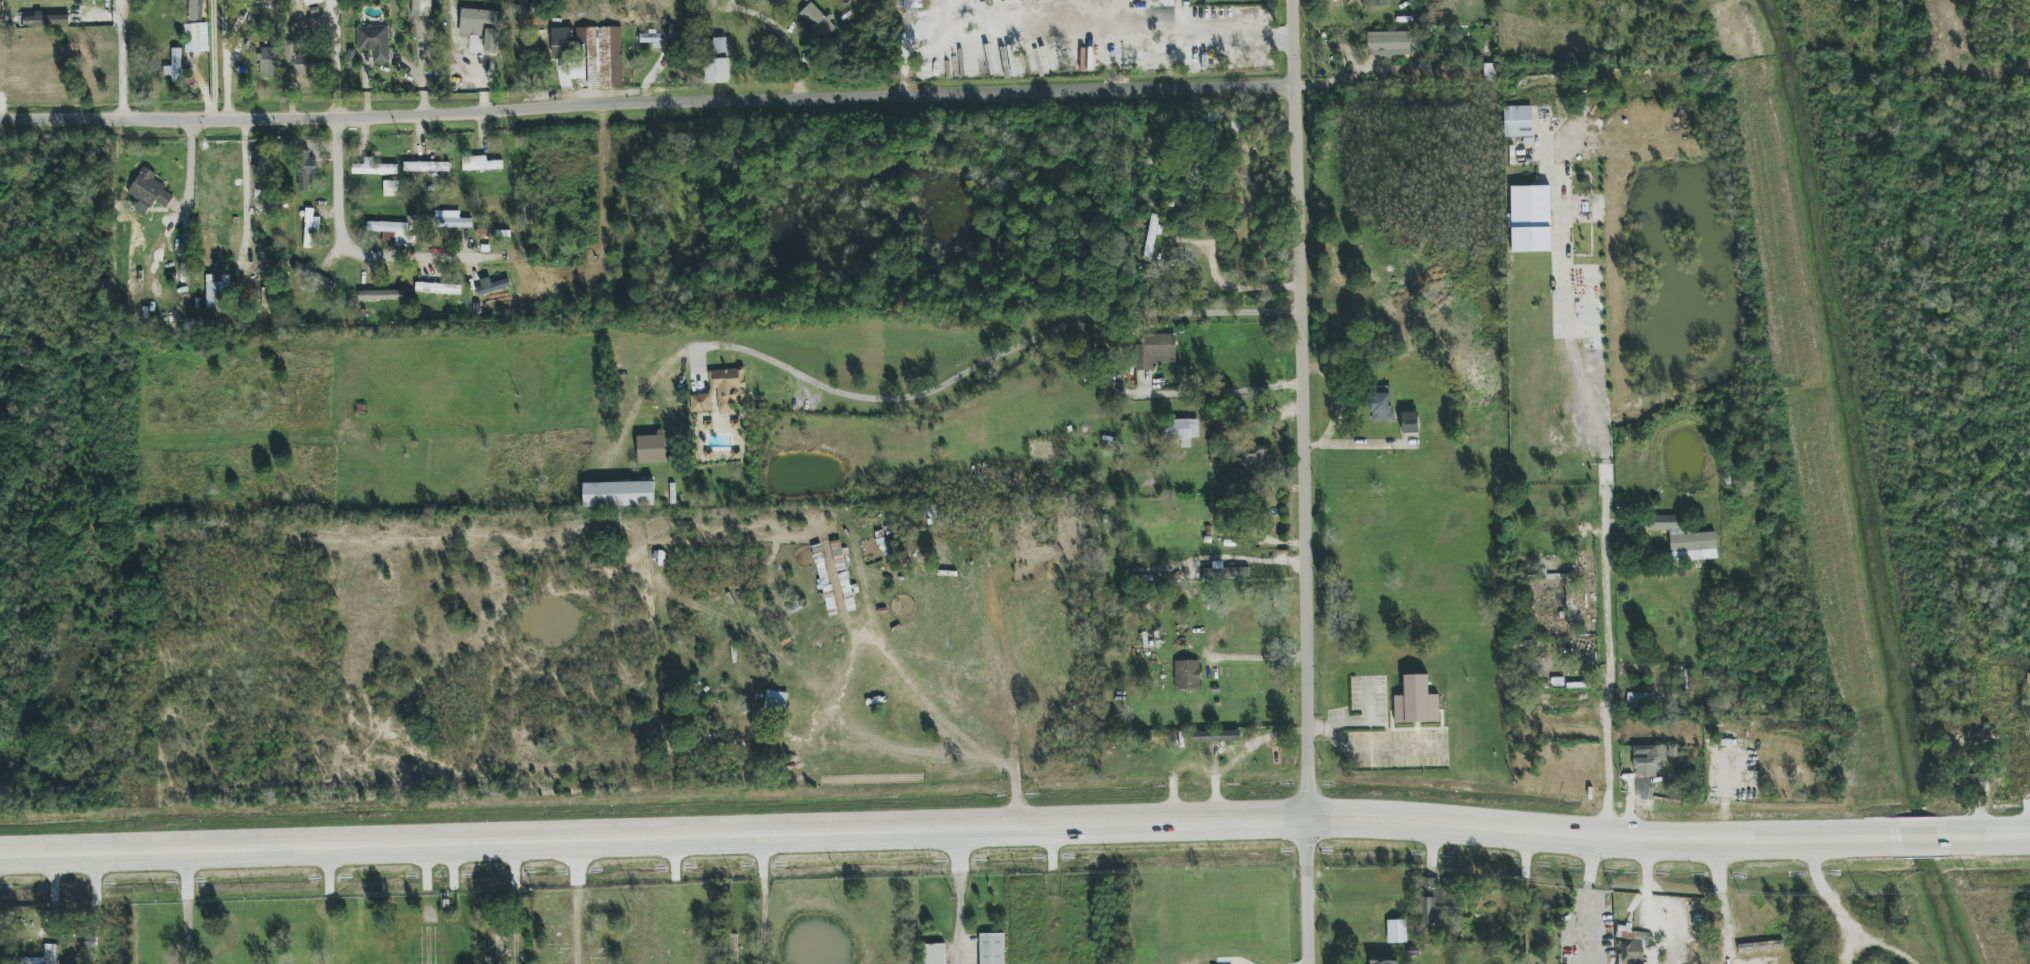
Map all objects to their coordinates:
building: (1168, 0)
building: (262, 1)
building: (313, 1)
building: (1377, 2)
building: (909, 3)
building: (421, 7)
building: (196, 10)
building: (1, 12)
road: (1126, 17)
road: (1177, 17)
building: (46, 20)
building: (818, 20)
building: (480, 30)
road: (1029, 32)
road: (1173, 34)
road: (781, 35)
building: (196, 37)
building: (663, 39)
building: (562, 41)
building: (374, 42)
road: (1300, 42)
building: (1388, 44)
building: (721, 47)
building: (603, 56)
road: (120, 57)
road: (214, 58)
road: (223, 58)
building: (269, 62)
building: (175, 66)
building: (717, 70)
building: (1490, 73)
road: (482, 78)
road: (650, 104)
building: (1518, 121)
building: (480, 163)
building: (374, 168)
building: (306, 170)
road: (187, 181)
road: (253, 186)
building: (391, 188)
building: (149, 191)
road: (335, 196)
building: (1530, 218)
building: (310, 226)
building: (391, 232)
building: (1151, 235)
building: (313, 276)
building: (492, 285)
road: (1224, 286)
building: (438, 288)
building: (217, 294)
building: (381, 295)
building: (267, 300)
building: (1154, 351)
road: (997, 357)
building: (728, 386)
road: (1216, 392)
road: (1589, 395)
building: (701, 402)
building: (1381, 405)
building: (1410, 422)
building: (1182, 431)
road: (1359, 443)
building: (651, 449)
road: (1303, 452)
building: (1249, 460)
building: (619, 494)
building: (1684, 537)
building: (1226, 571)
road: (1260, 666)
building: (1187, 675)
road: (1606, 684)
building: (1688, 684)
building: (1639, 699)
building: (776, 701)
building: (1416, 701)
building: (1216, 736)
road: (1369, 752)
building: (1648, 760)
road: (944, 830)
road: (1999, 837)
road: (1928, 838)
road: (1306, 891)
road: (961, 896)
road: (1589, 898)
road: (761, 901)
building: (1428, 901)
road: (579, 903)
road: (1724, 903)
road: (186, 910)
building: (1396, 931)
building: (495, 939)
building: (1760, 946)
building: (733, 948)
building: (991, 948)
building: (1633, 948)
building: (50, 950)
building: (934, 954)
building: (1695, 955)
building: (1383, 959)

